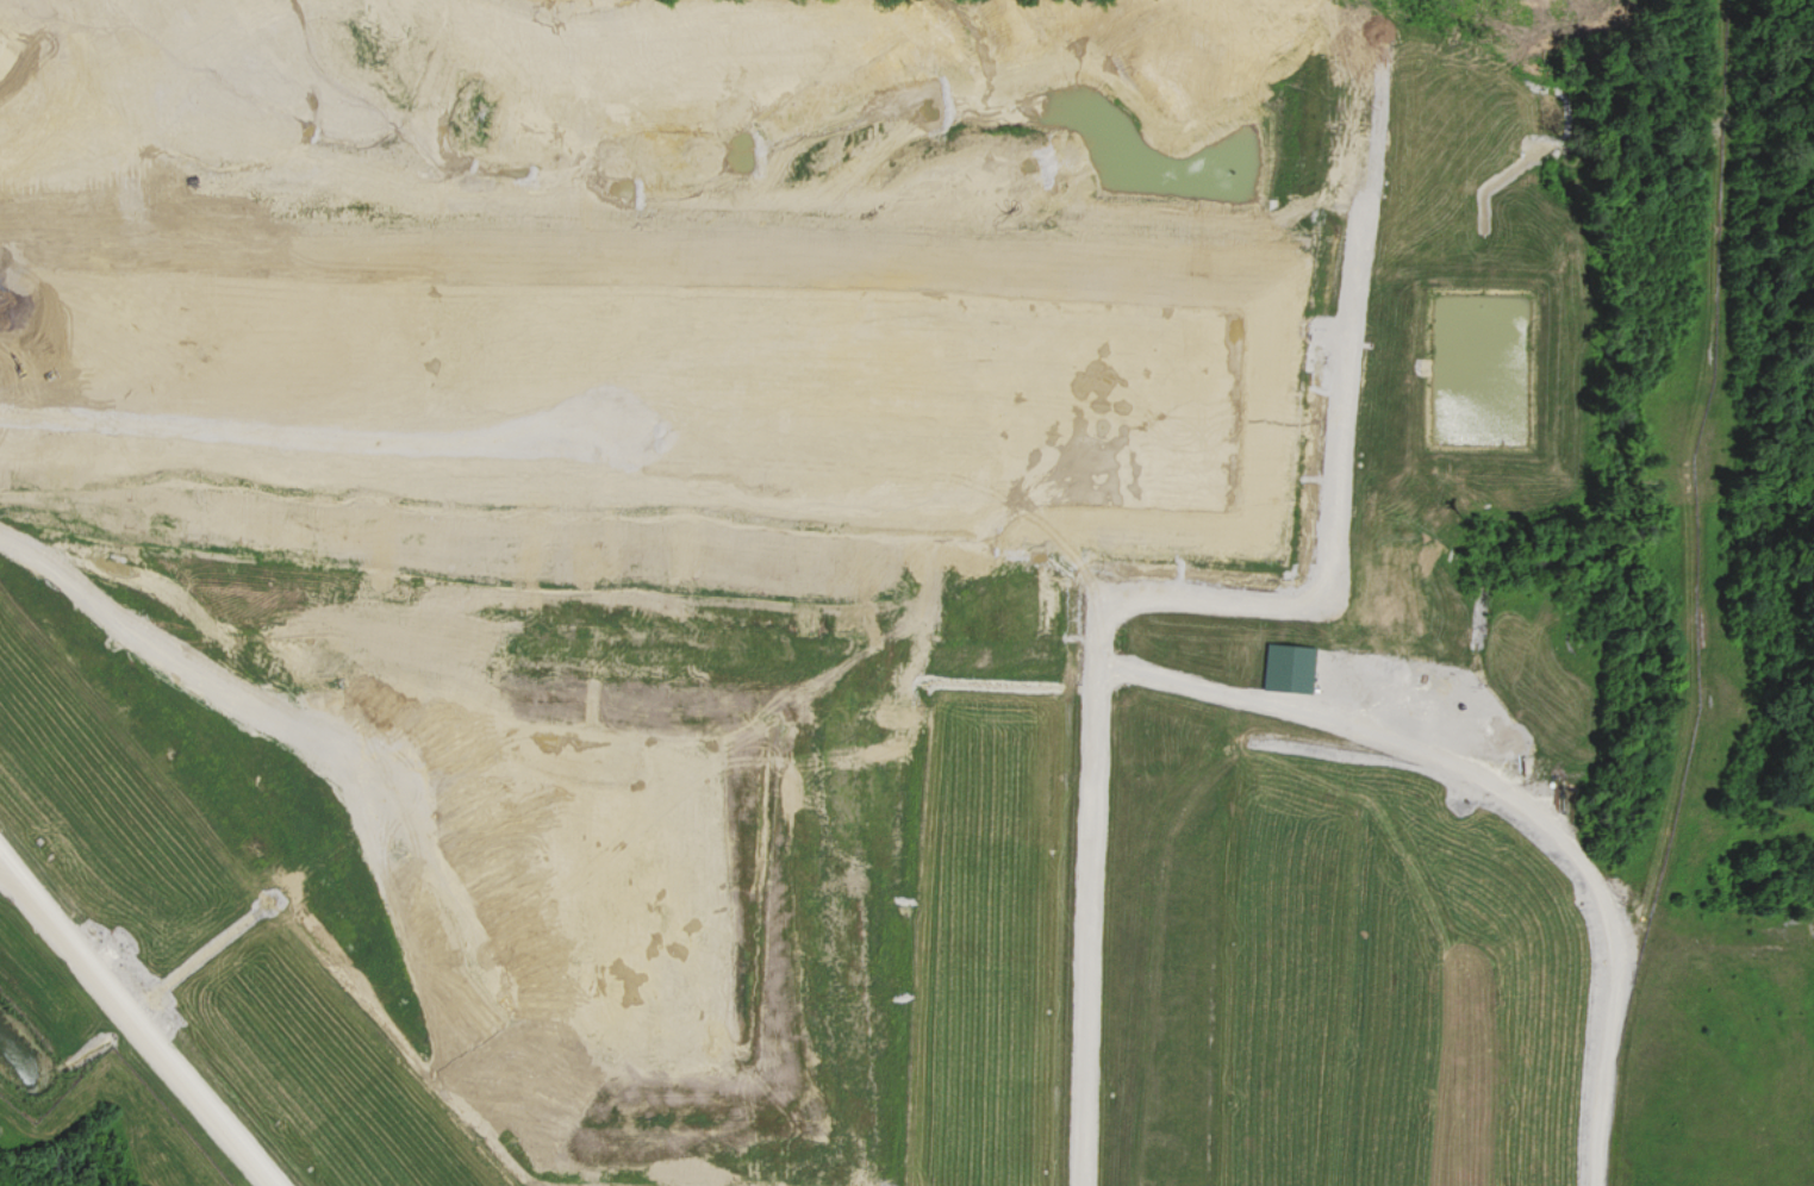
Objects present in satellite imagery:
building: (1292, 667)
road: (1274, 707)

